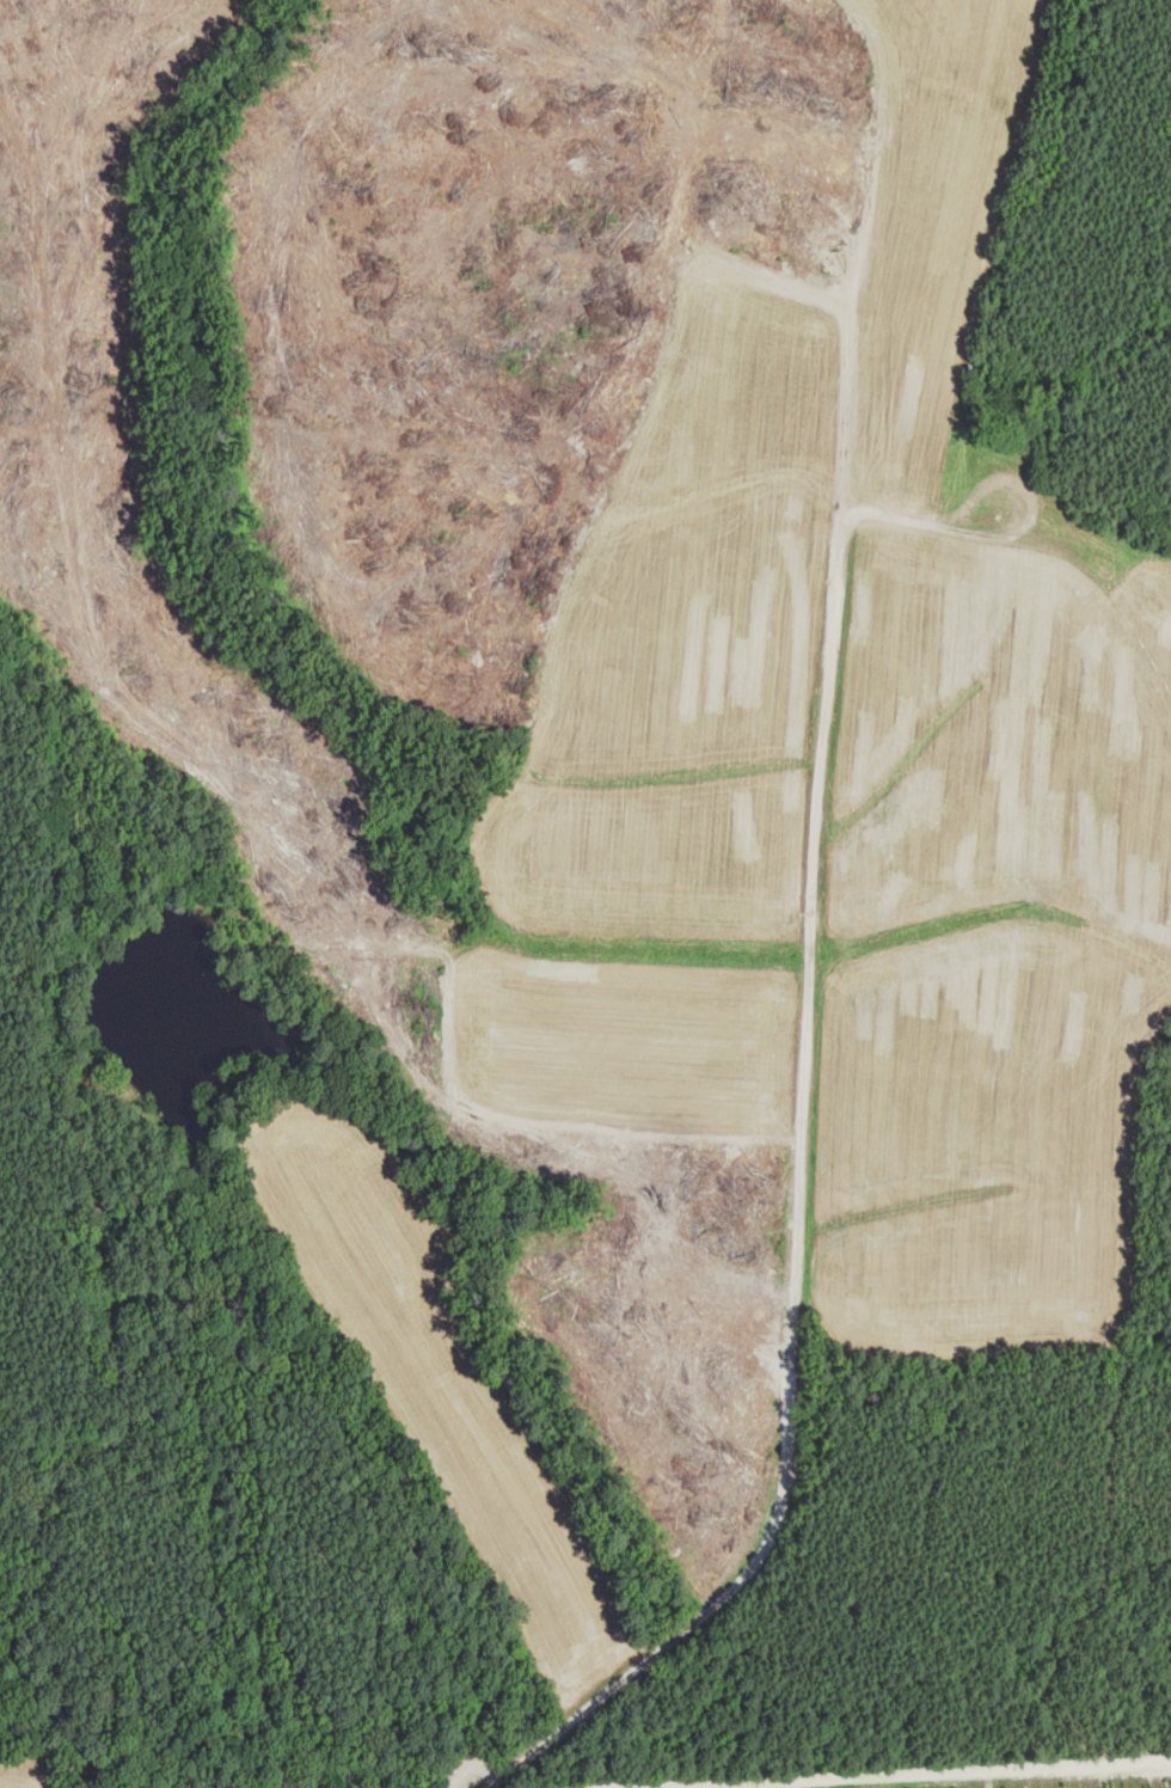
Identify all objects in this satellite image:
road: (796, 1212)

